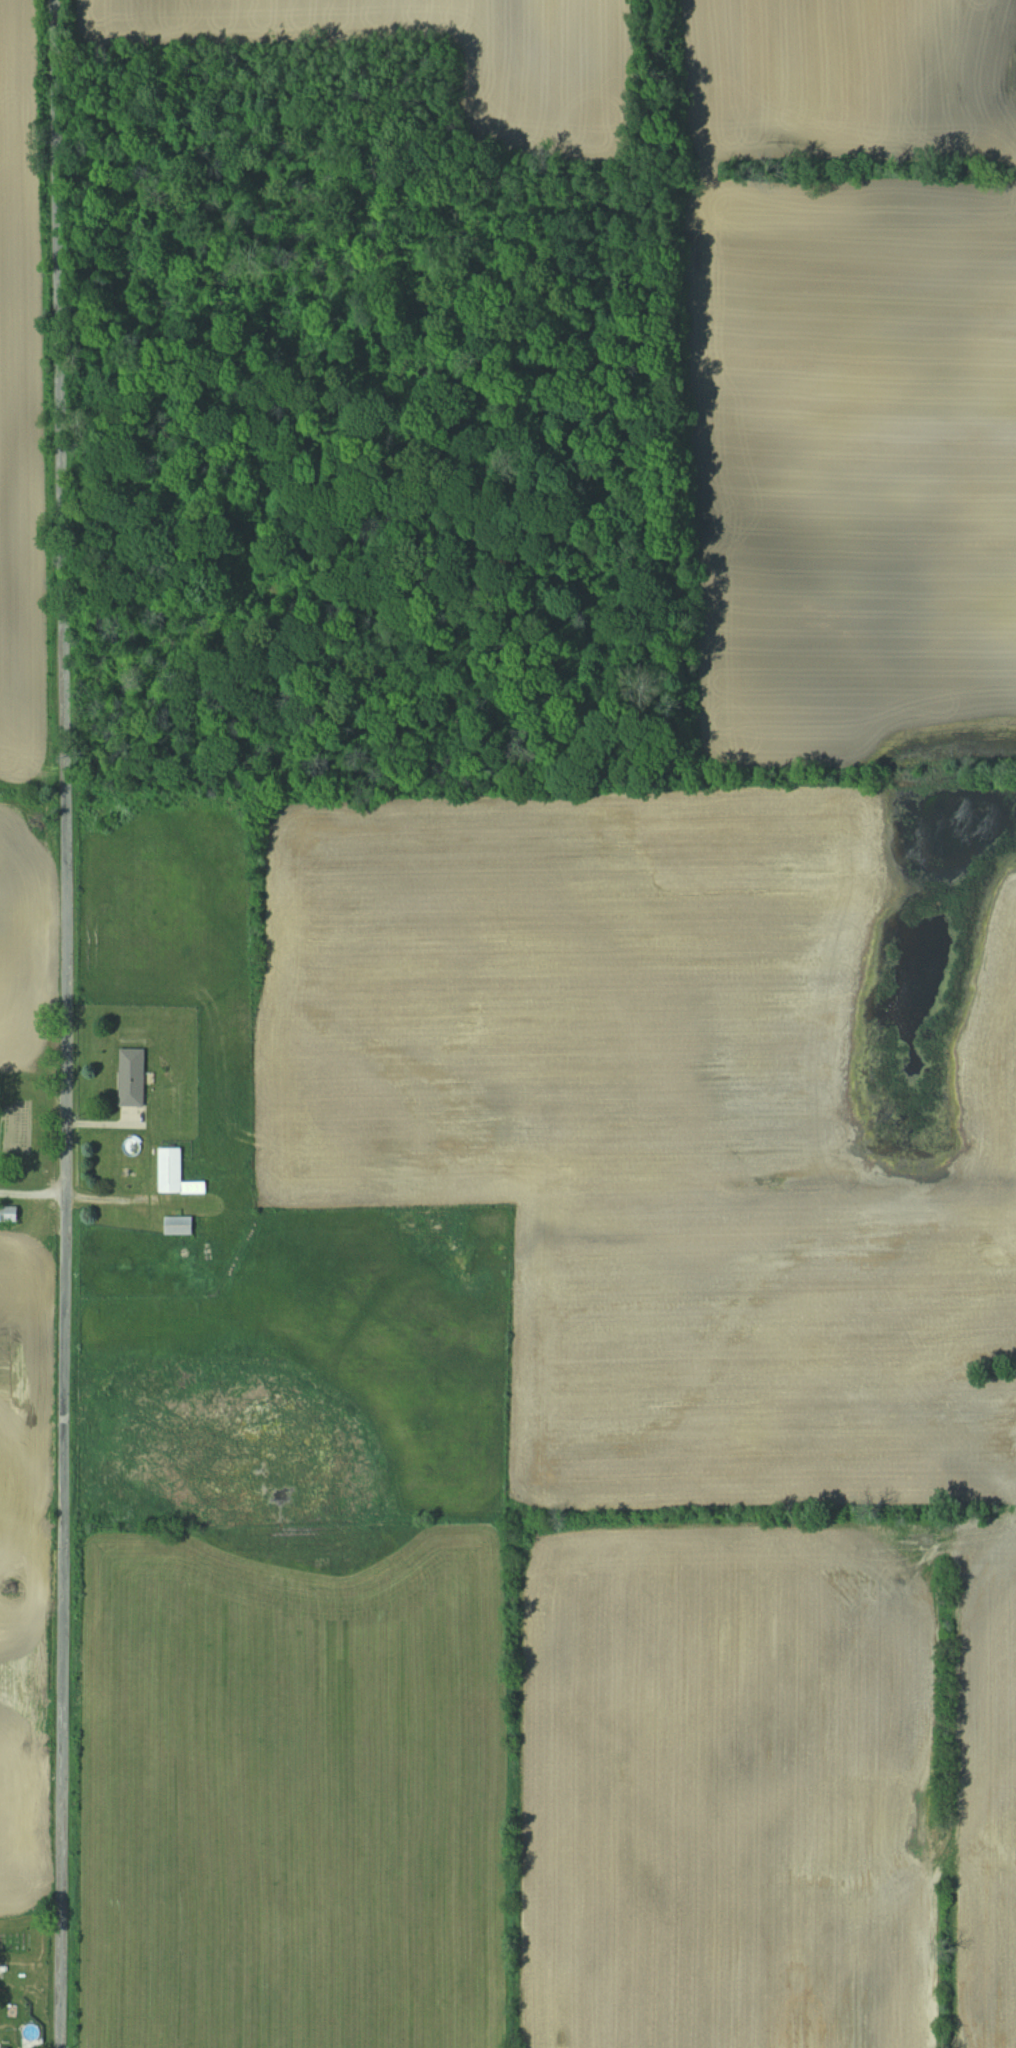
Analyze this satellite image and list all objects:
road: (66, 1023)
building: (133, 1077)
building: (177, 1174)
road: (33, 1192)
building: (10, 1214)
building: (180, 1225)

